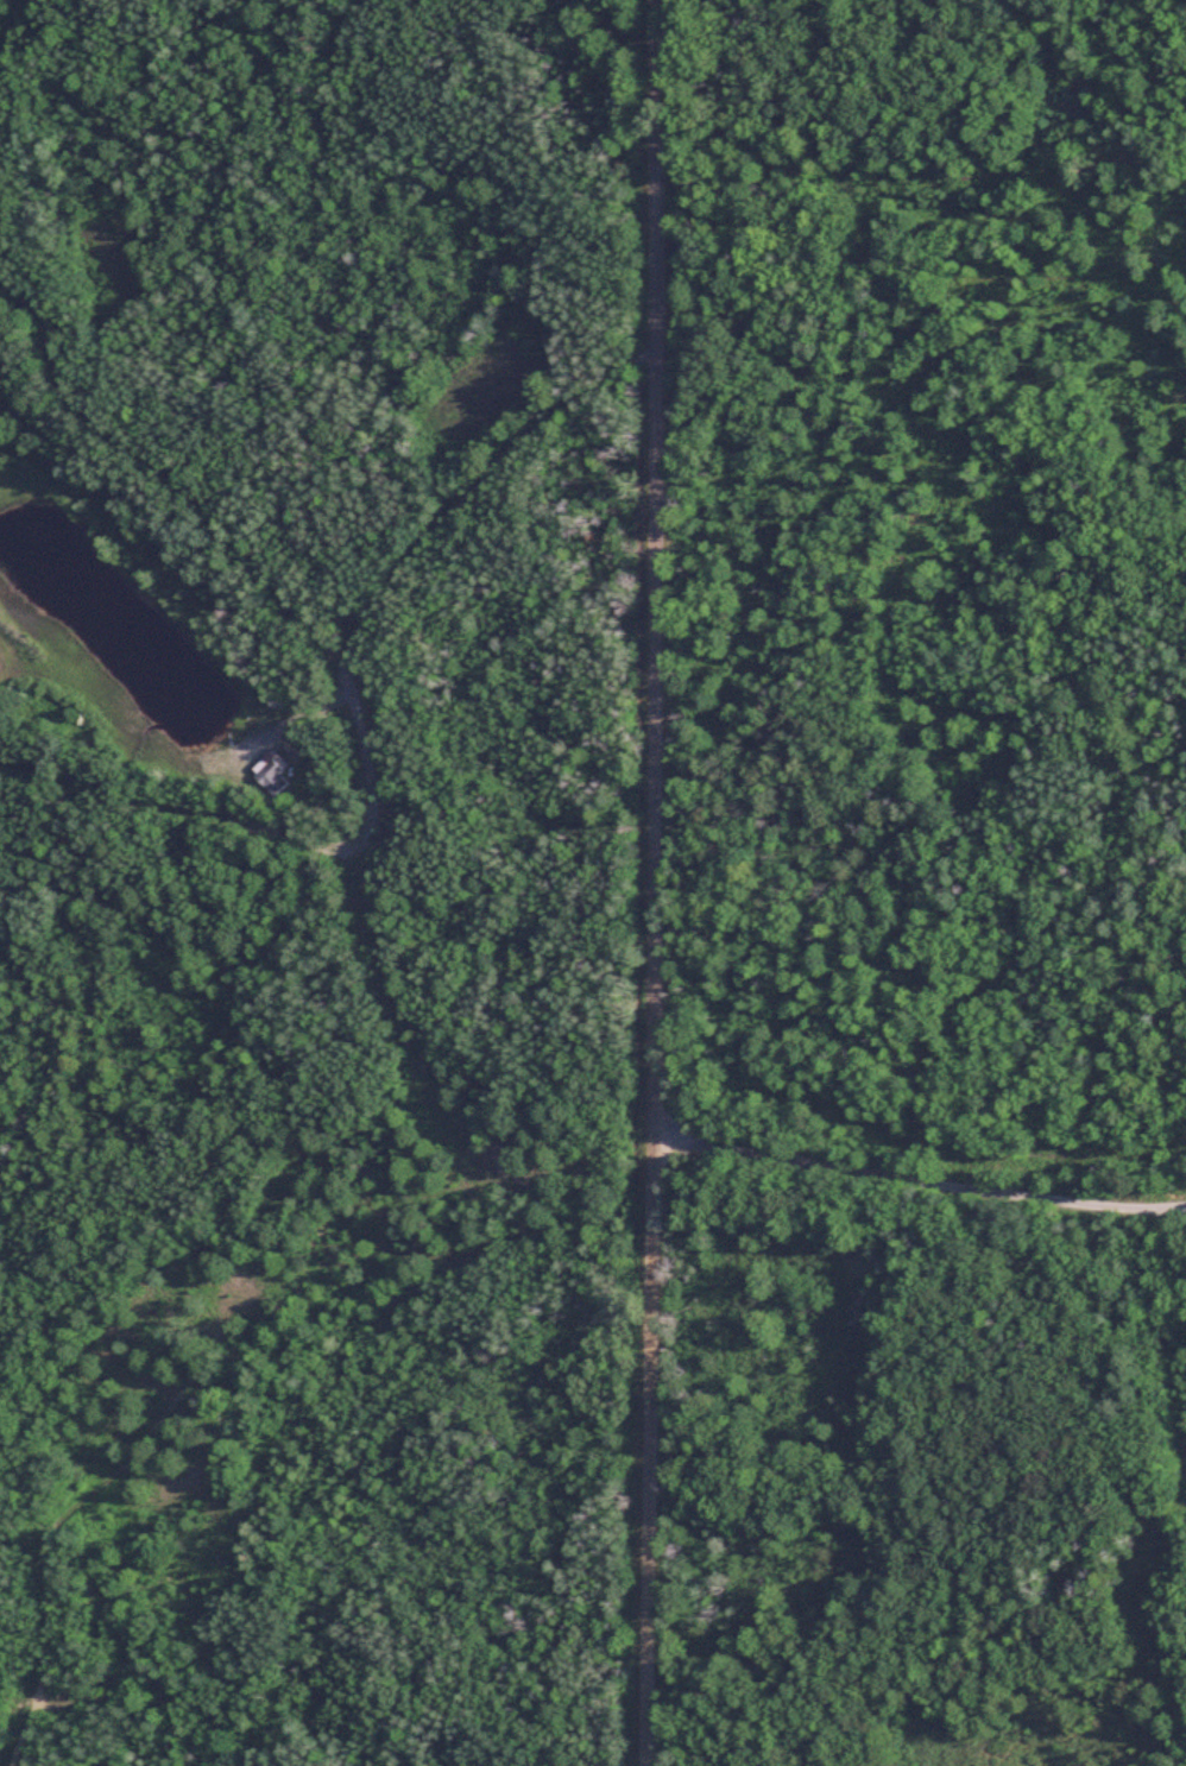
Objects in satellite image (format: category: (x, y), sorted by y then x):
road: (1062, 169)
building: (271, 777)
road: (651, 882)
road: (917, 1165)

